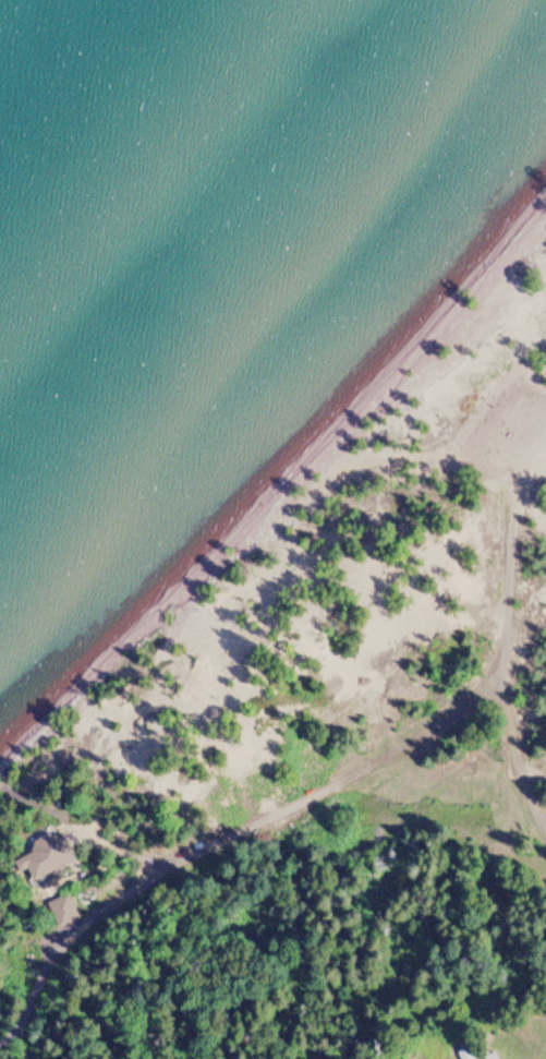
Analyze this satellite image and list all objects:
road: (514, 488)
road: (280, 810)

